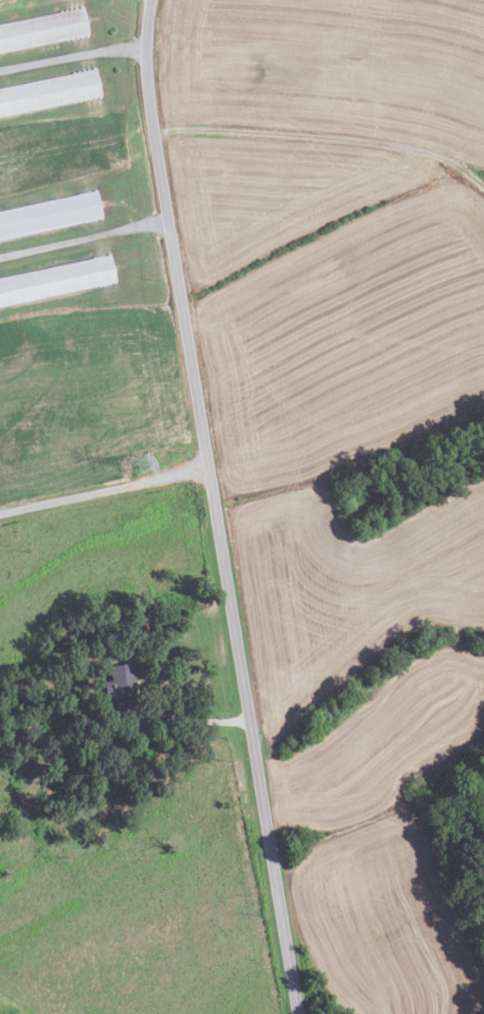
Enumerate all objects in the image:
building: (42, 30)
road: (72, 57)
crop: (327, 69)
building: (49, 92)
road: (323, 138)
building: (49, 214)
road: (83, 238)
building: (56, 279)
crop: (328, 302)
crop: (85, 397)
power tower: (145, 468)
road: (103, 488)
road: (215, 507)
building: (122, 690)
building: (85, 714)
road: (197, 722)
crop: (366, 731)

